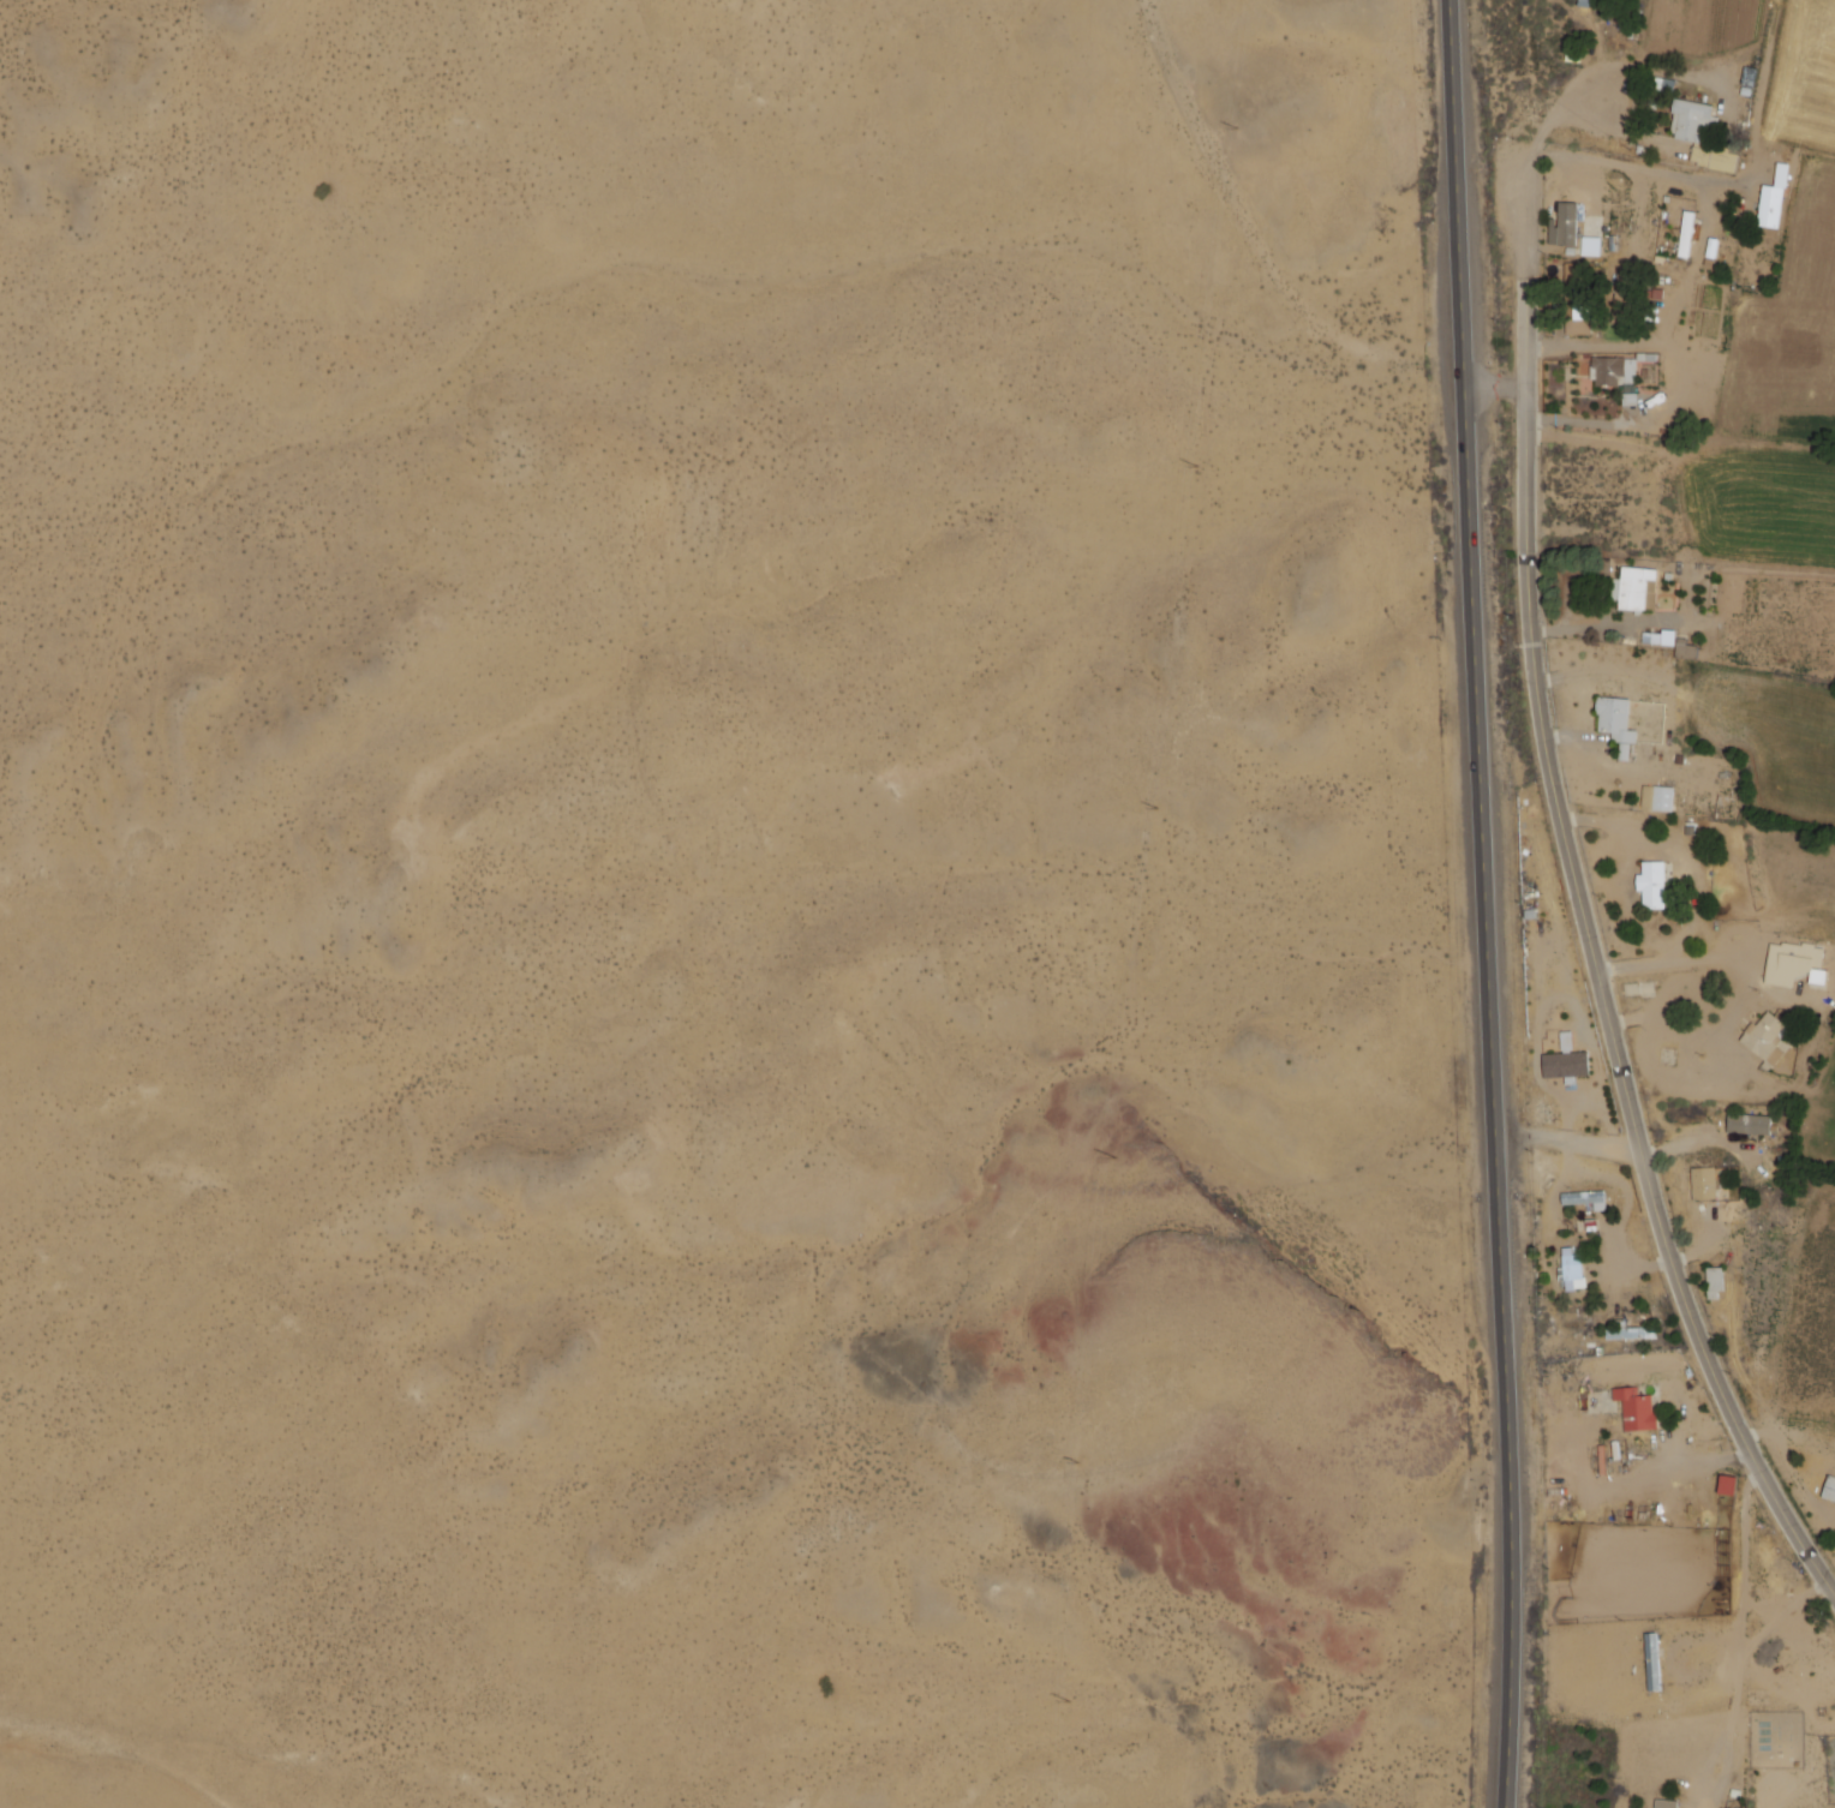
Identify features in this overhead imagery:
building: (1699, 134)
road: (1462, 193)
building: (1770, 205)
road: (1529, 224)
building: (1564, 224)
building: (1686, 233)
road: (1700, 247)
road: (1640, 423)
road: (1525, 436)
building: (1632, 587)
building: (1685, 651)
building: (1615, 722)
building: (1656, 797)
building: (1651, 884)
building: (1791, 964)
building: (1765, 1037)
building: (1565, 1061)
road: (1626, 1084)
road: (1492, 1097)
building: (1749, 1122)
road: (1517, 1136)
road: (1591, 1147)
building: (1703, 1183)
building: (1584, 1198)
building: (1571, 1269)
building: (1713, 1282)
building: (1636, 1408)
building: (1727, 1484)
building: (1829, 1489)
building: (1651, 1660)
building: (1666, 1803)

